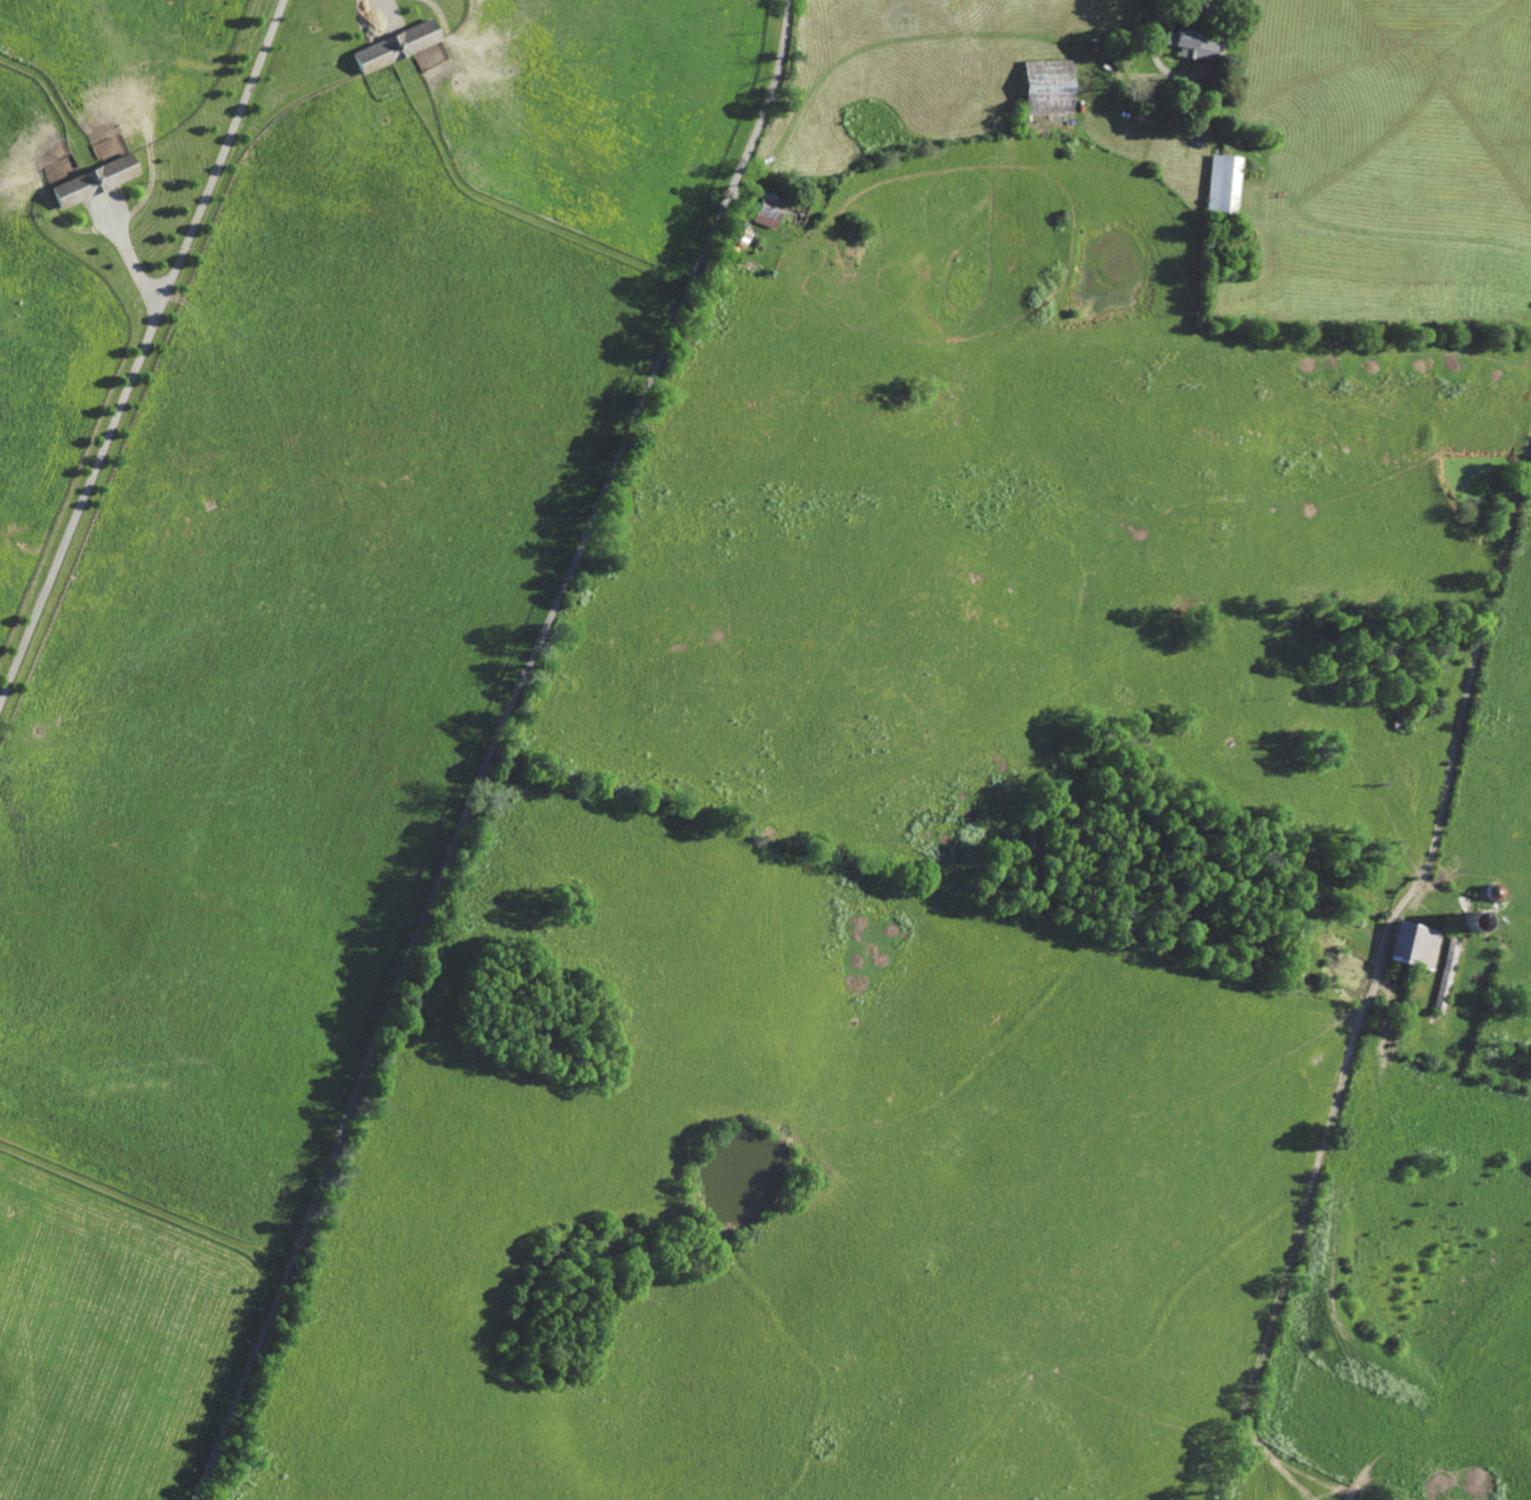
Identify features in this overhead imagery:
building: (1189, 46)
building: (394, 47)
building: (433, 58)
road: (1182, 79)
building: (1044, 85)
building: (87, 180)
building: (1222, 185)
building: (767, 211)
building: (739, 238)
road: (142, 351)
road: (492, 748)
building: (1411, 945)
building: (1447, 969)
road: (1375, 981)

